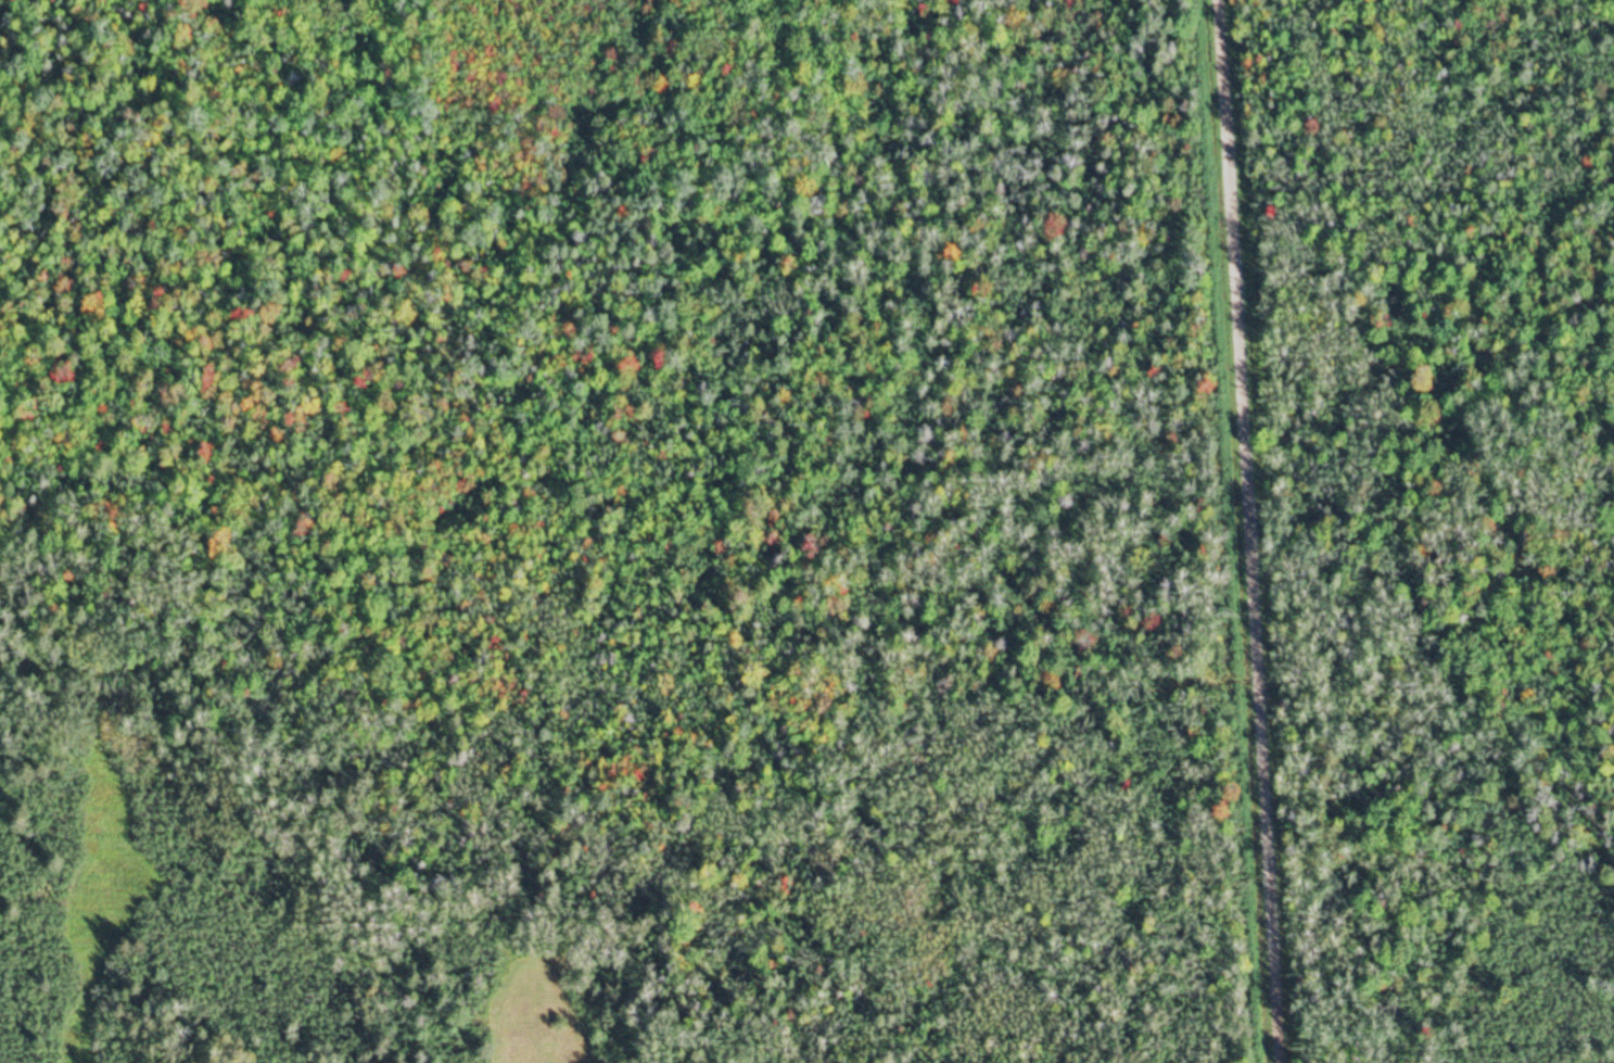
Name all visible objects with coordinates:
road: (1251, 531)

